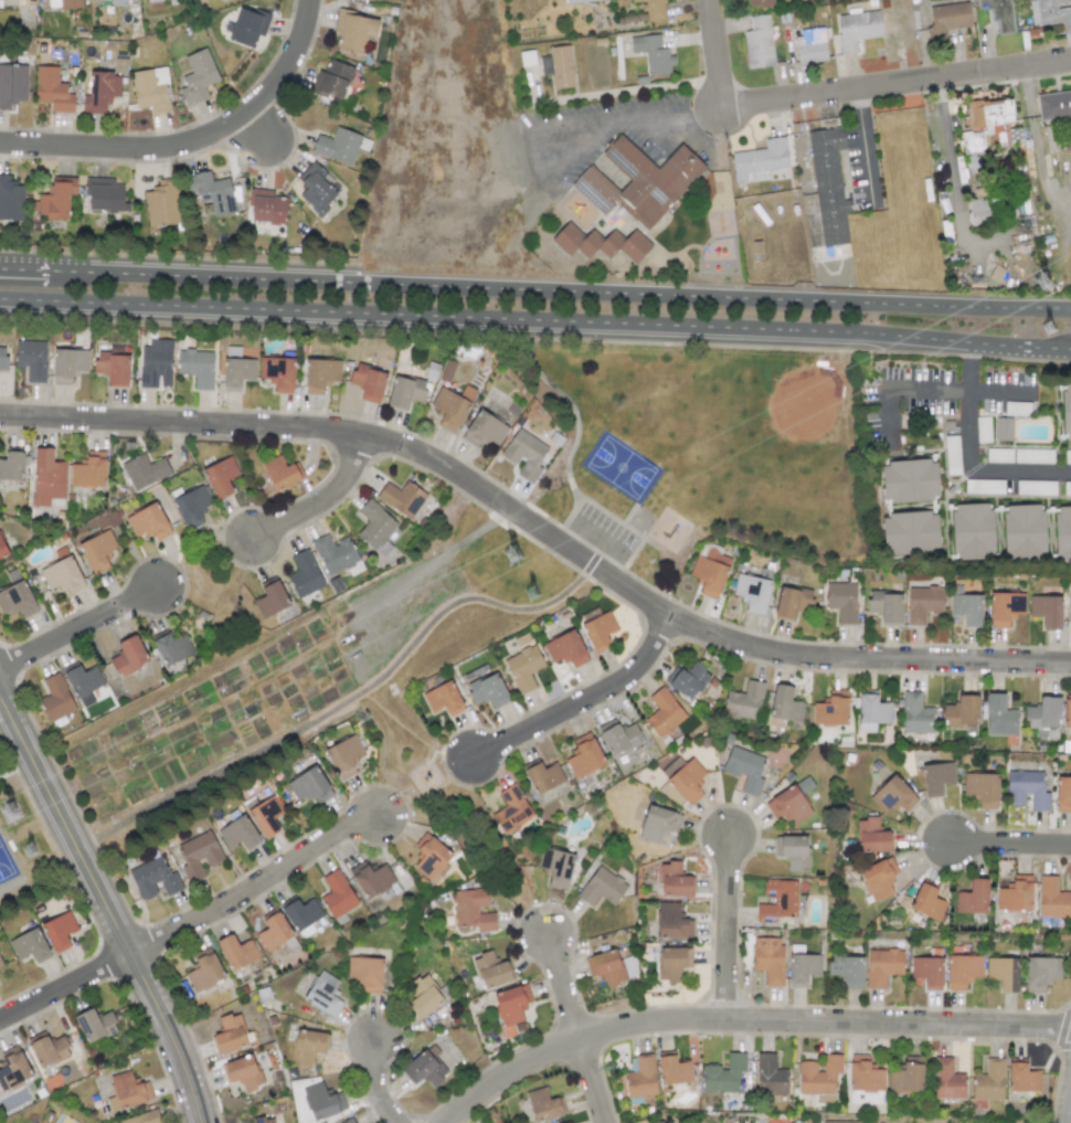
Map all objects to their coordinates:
building: (635, 0)
building: (119, 1)
building: (575, 1)
building: (63, 3)
building: (759, 3)
building: (655, 9)
building: (998, 12)
building: (1049, 13)
building: (947, 20)
building: (247, 25)
building: (354, 29)
building: (856, 29)
building: (757, 42)
building: (809, 46)
building: (651, 53)
road: (714, 55)
building: (544, 65)
building: (561, 66)
building: (197, 77)
building: (331, 80)
building: (12, 84)
building: (52, 89)
building: (150, 89)
road: (895, 89)
road: (625, 91)
building: (100, 92)
building: (1053, 104)
building: (984, 123)
road: (556, 125)
road: (253, 127)
road: (194, 142)
building: (338, 146)
road: (867, 146)
building: (759, 160)
building: (638, 181)
building: (828, 184)
building: (317, 189)
building: (212, 192)
building: (104, 194)
building: (10, 199)
building: (56, 199)
building: (162, 203)
building: (266, 206)
building: (983, 209)
building: (600, 242)
power tower: (1042, 282)
road: (534, 289)
road: (535, 319)
power tower: (1048, 329)
building: (2, 359)
building: (31, 359)
building: (156, 363)
building: (67, 364)
building: (197, 367)
building: (237, 372)
building: (277, 373)
building: (320, 374)
building: (368, 382)
road: (933, 390)
building: (406, 391)
park: (804, 406)
building: (1065, 411)
building: (982, 428)
building: (1003, 428)
building: (484, 431)
road: (572, 447)
park: (699, 449)
building: (524, 454)
building: (952, 455)
road: (968, 455)
building: (998, 455)
building: (1032, 455)
building: (1067, 456)
building: (11, 466)
park: (621, 467)
building: (144, 470)
building: (88, 472)
building: (280, 473)
building: (220, 477)
building: (47, 479)
building: (909, 480)
building: (984, 486)
building: (1035, 487)
building: (1067, 488)
building: (401, 498)
road: (325, 505)
building: (191, 506)
road: (566, 519)
building: (148, 522)
building: (375, 527)
road: (539, 531)
building: (971, 531)
building: (1022, 531)
building: (910, 532)
building: (1062, 533)
parking lot: (603, 534)
building: (97, 550)
building: (2, 551)
building: (335, 553)
power tower: (512, 554)
road: (629, 560)
road: (432, 563)
building: (709, 573)
building: (304, 574)
building: (62, 575)
building: (752, 592)
power tower: (531, 593)
building: (271, 600)
building: (841, 601)
building: (792, 602)
building: (923, 603)
building: (886, 606)
building: (1005, 607)
building: (966, 608)
building: (1046, 610)
building: (1069, 613)
road: (81, 628)
building: (598, 632)
building: (171, 648)
building: (565, 649)
building: (129, 655)
building: (523, 667)
building: (687, 679)
building: (83, 684)
building: (55, 698)
building: (443, 699)
road: (581, 702)
building: (743, 702)
building: (785, 704)
road: (343, 706)
building: (830, 711)
building: (961, 711)
building: (662, 712)
building: (871, 712)
building: (915, 713)
building: (1067, 713)
building: (1042, 716)
building: (998, 717)
road: (394, 728)
building: (618, 737)
road: (447, 754)
building: (343, 755)
building: (584, 755)
building: (744, 769)
road: (15, 770)
road: (385, 771)
building: (543, 776)
building: (683, 777)
building: (936, 777)
building: (308, 785)
building: (982, 788)
building: (1026, 790)
building: (669, 793)
building: (1063, 794)
building: (892, 795)
building: (787, 805)
building: (511, 809)
power tower: (10, 812)
building: (266, 816)
building: (657, 824)
building: (238, 834)
building: (871, 836)
road: (1012, 845)
power tower: (30, 850)
building: (792, 851)
building: (198, 855)
building: (431, 858)
park: (6, 865)
building: (556, 866)
building: (153, 878)
building: (371, 879)
building: (878, 879)
building: (674, 880)
road: (254, 883)
building: (602, 887)
building: (337, 894)
building: (1015, 894)
building: (973, 897)
building: (1051, 898)
building: (778, 899)
building: (926, 902)
road: (105, 909)
building: (473, 910)
building: (301, 912)
building: (671, 922)
road: (728, 928)
building: (59, 931)
building: (274, 931)
building: (30, 945)
building: (236, 952)
building: (768, 958)
building: (672, 962)
building: (0, 964)
building: (882, 965)
building: (605, 966)
building: (803, 968)
building: (491, 970)
building: (847, 970)
building: (204, 971)
building: (926, 971)
building: (962, 971)
building: (1040, 972)
building: (1004, 973)
building: (365, 974)
road: (64, 987)
road: (566, 988)
building: (322, 994)
building: (422, 996)
building: (510, 1008)
road: (749, 1021)
building: (95, 1025)
building: (230, 1034)
building: (306, 1046)
building: (47, 1049)
building: (424, 1067)
building: (13, 1068)
building: (674, 1071)
building: (242, 1072)
building: (723, 1074)
building: (863, 1074)
building: (770, 1076)
building: (640, 1077)
building: (819, 1078)
building: (905, 1078)
building: (1021, 1078)
building: (946, 1079)
building: (988, 1080)
road: (596, 1081)
road: (382, 1084)
building: (127, 1091)
building: (322, 1101)
building: (542, 1104)
road: (1069, 1113)
building: (142, 1117)
building: (262, 1120)
building: (350, 1121)
building: (568, 1122)
building: (570, 1122)
building: (666, 1122)
building: (792, 1122)
building: (837, 1122)

